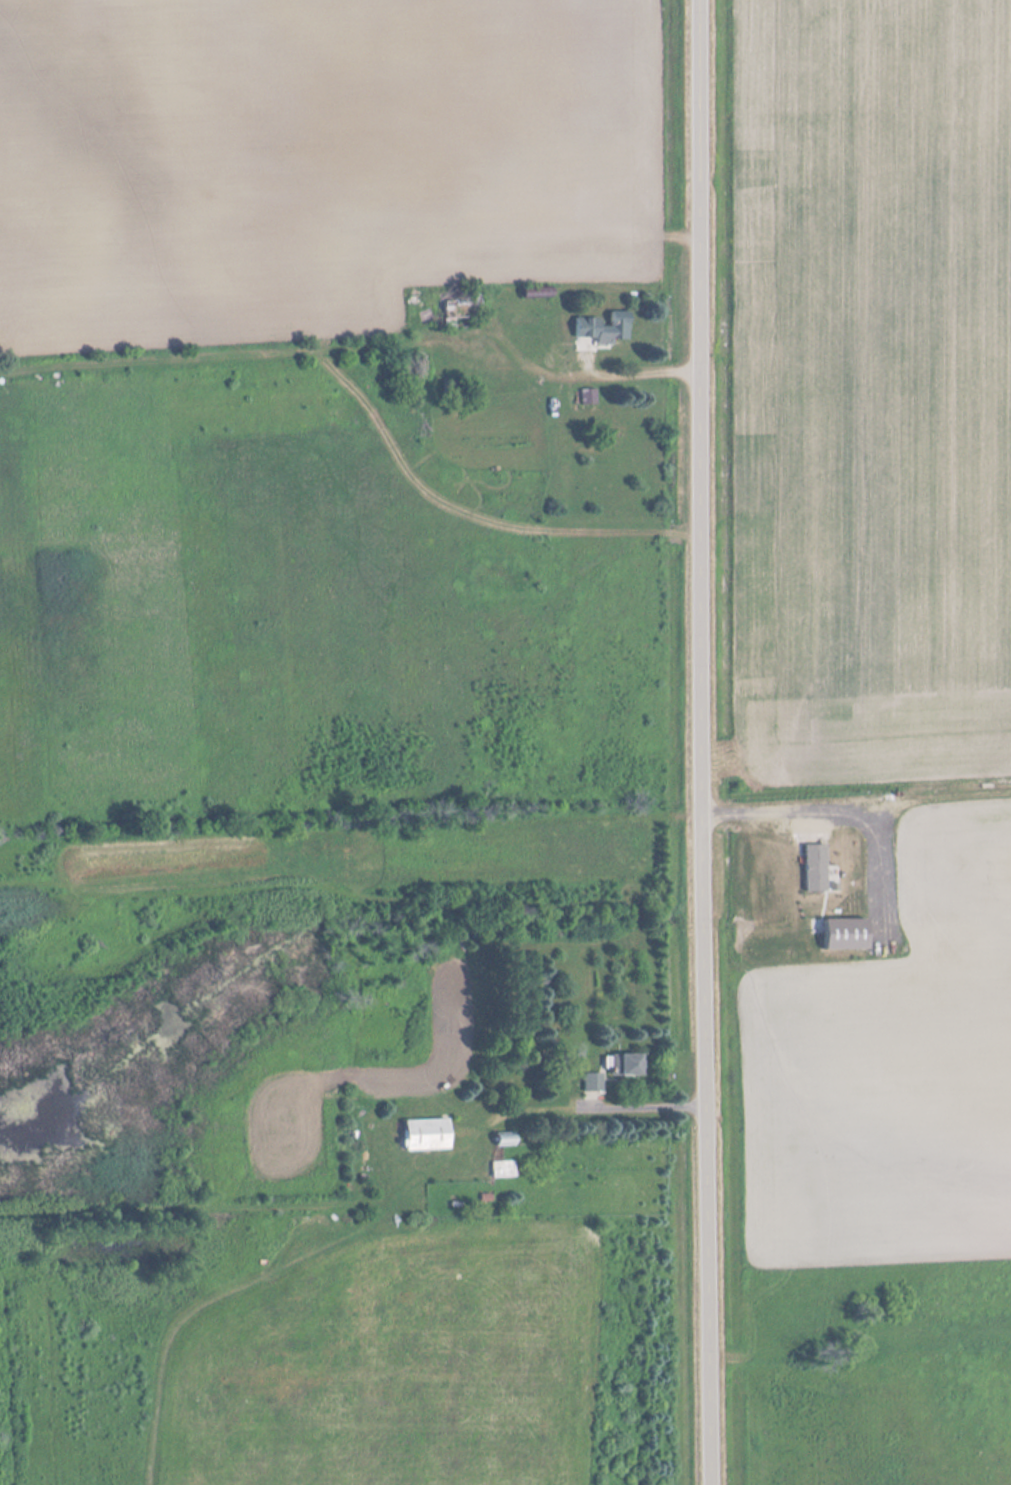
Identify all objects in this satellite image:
building: (458, 310)
building: (615, 330)
building: (588, 398)
road: (700, 742)
building: (625, 1065)
building: (592, 1083)
building: (426, 1135)
building: (505, 1139)
building: (503, 1169)

